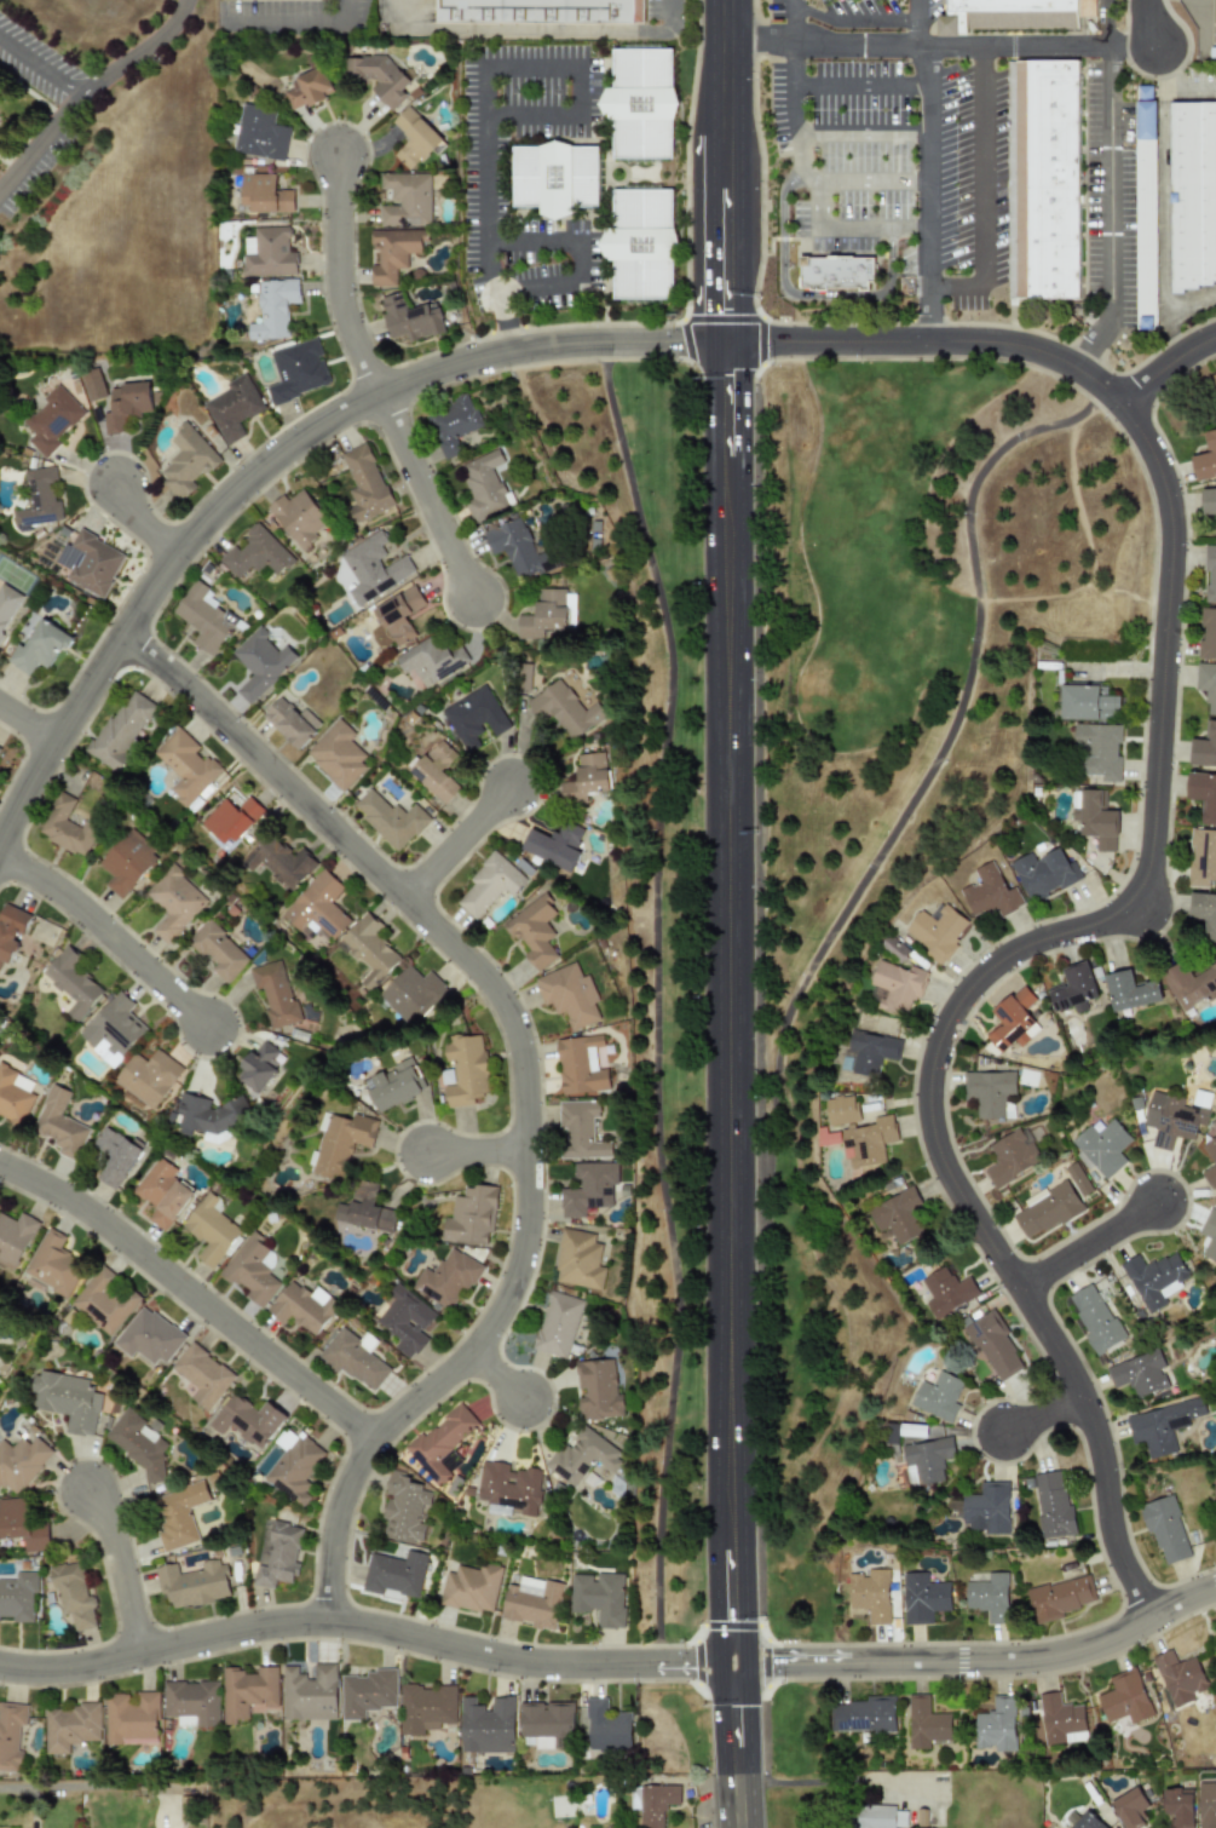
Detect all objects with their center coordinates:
building: (541, 12)
building: (1010, 16)
road: (857, 21)
road: (1147, 23)
road: (921, 24)
road: (1108, 24)
power substation: (1203, 25)
road: (300, 27)
road: (1204, 27)
road: (543, 31)
road: (939, 48)
road: (136, 53)
road: (42, 68)
road: (725, 71)
road: (795, 71)
building: (378, 77)
road: (482, 85)
road: (864, 87)
building: (306, 88)
road: (1189, 90)
building: (641, 103)
building: (259, 133)
building: (413, 137)
road: (42, 145)
road: (803, 159)
building: (553, 177)
building: (1047, 180)
road: (1111, 183)
building: (1194, 192)
building: (264, 194)
building: (404, 199)
road: (1164, 201)
building: (1147, 202)
road: (854, 230)
road: (725, 242)
building: (639, 245)
road: (580, 252)
building: (267, 253)
building: (391, 253)
building: (838, 272)
road: (342, 281)
road: (957, 288)
road: (808, 297)
road: (1189, 307)
building: (272, 309)
traffic signals: (725, 310)
road: (927, 314)
building: (410, 318)
road: (616, 341)
traffic signals: (678, 341)
traffic signals: (725, 341)
traffic signals: (771, 341)
road: (930, 341)
road: (1090, 343)
road: (1164, 366)
building: (296, 370)
traffic signals: (725, 375)
building: (1214, 379)
building: (92, 384)
building: (126, 406)
building: (232, 407)
building: (51, 420)
road: (725, 421)
building: (451, 424)
building: (1205, 459)
building: (185, 461)
building: (363, 484)
building: (482, 485)
road: (426, 494)
building: (38, 499)
building: (1209, 500)
building: (296, 517)
road: (144, 525)
road: (194, 533)
building: (517, 548)
building: (255, 553)
building: (90, 563)
building: (371, 568)
building: (1211, 574)
building: (6, 604)
building: (546, 614)
building: (398, 615)
building: (204, 619)
park: (918, 628)
building: (1208, 634)
building: (38, 648)
building: (431, 661)
building: (260, 663)
building: (524, 677)
building: (1208, 684)
building: (1089, 702)
building: (566, 706)
building: (476, 717)
road: (27, 720)
building: (290, 723)
building: (121, 730)
building: (0, 748)
building: (1099, 749)
building: (1204, 749)
building: (336, 754)
building: (185, 765)
building: (437, 771)
road: (927, 774)
building: (588, 778)
building: (1203, 794)
building: (1094, 817)
building: (230, 818)
building: (390, 818)
building: (65, 827)
road: (462, 843)
building: (557, 844)
building: (1201, 857)
building: (127, 862)
building: (278, 862)
building: (1043, 873)
building: (489, 884)
building: (990, 892)
building: (174, 902)
road: (1134, 902)
building: (317, 908)
building: (1204, 912)
building: (11, 930)
road: (110, 930)
building: (534, 931)
building: (938, 931)
building: (368, 949)
building: (218, 950)
building: (71, 982)
road: (970, 985)
building: (1189, 985)
building: (895, 987)
building: (1073, 989)
building: (1129, 990)
building: (275, 993)
building: (413, 995)
building: (569, 995)
road: (655, 999)
road: (726, 1010)
building: (1014, 1021)
building: (113, 1025)
building: (871, 1051)
building: (261, 1065)
building: (581, 1065)
building: (466, 1070)
road: (526, 1076)
building: (148, 1077)
building: (396, 1085)
building: (990, 1093)
building: (13, 1096)
building: (842, 1110)
building: (1172, 1119)
building: (58, 1125)
building: (581, 1129)
building: (829, 1137)
building: (342, 1142)
building: (869, 1143)
building: (1103, 1146)
road: (477, 1151)
building: (1211, 1155)
building: (114, 1156)
building: (1012, 1156)
building: (1078, 1179)
building: (588, 1189)
building: (162, 1192)
building: (367, 1209)
building: (1048, 1211)
building: (471, 1217)
building: (900, 1217)
building: (212, 1231)
building: (1209, 1235)
building: (15, 1237)
road: (1087, 1244)
building: (578, 1259)
building: (54, 1264)
building: (252, 1270)
building: (1156, 1278)
building: (445, 1280)
building: (947, 1290)
road: (192, 1292)
building: (104, 1301)
building: (302, 1307)
building: (1095, 1318)
building: (404, 1320)
building: (557, 1323)
building: (150, 1336)
building: (993, 1346)
building: (352, 1359)
road: (497, 1373)
building: (1139, 1373)
building: (203, 1375)
building: (598, 1390)
building: (939, 1396)
building: (68, 1399)
road: (1042, 1415)
building: (248, 1420)
building: (1160, 1425)
building: (139, 1441)
building: (440, 1442)
building: (582, 1456)
building: (927, 1460)
building: (22, 1462)
building: (294, 1468)
building: (508, 1489)
building: (1053, 1504)
building: (987, 1508)
building: (404, 1511)
building: (177, 1513)
building: (23, 1524)
building: (1165, 1530)
building: (276, 1553)
road: (122, 1568)
building: (393, 1573)
building: (191, 1583)
building: (471, 1587)
road: (728, 1591)
building: (73, 1594)
building: (871, 1594)
building: (18, 1596)
building: (599, 1597)
building: (989, 1597)
building: (1059, 1597)
building: (923, 1598)
building: (532, 1603)
road: (363, 1625)
road: (1039, 1656)
traffic signals: (772, 1662)
road: (789, 1662)
traffic signals: (688, 1663)
building: (1178, 1677)
building: (246, 1691)
building: (309, 1692)
building: (367, 1692)
building: (1124, 1697)
building: (190, 1702)
traffic signals: (732, 1706)
building: (425, 1707)
building: (864, 1714)
road: (732, 1718)
building: (1059, 1718)
building: (131, 1719)
building: (926, 1723)
building: (486, 1725)
building: (544, 1725)
building: (996, 1725)
building: (71, 1726)
building: (606, 1726)
building: (10, 1734)
road: (819, 1781)
road: (77, 1783)
road: (737, 1800)
building: (652, 1803)
building: (1206, 1804)
building: (1177, 1806)
building: (1129, 1807)
building: (877, 1816)
building: (1085, 1822)

